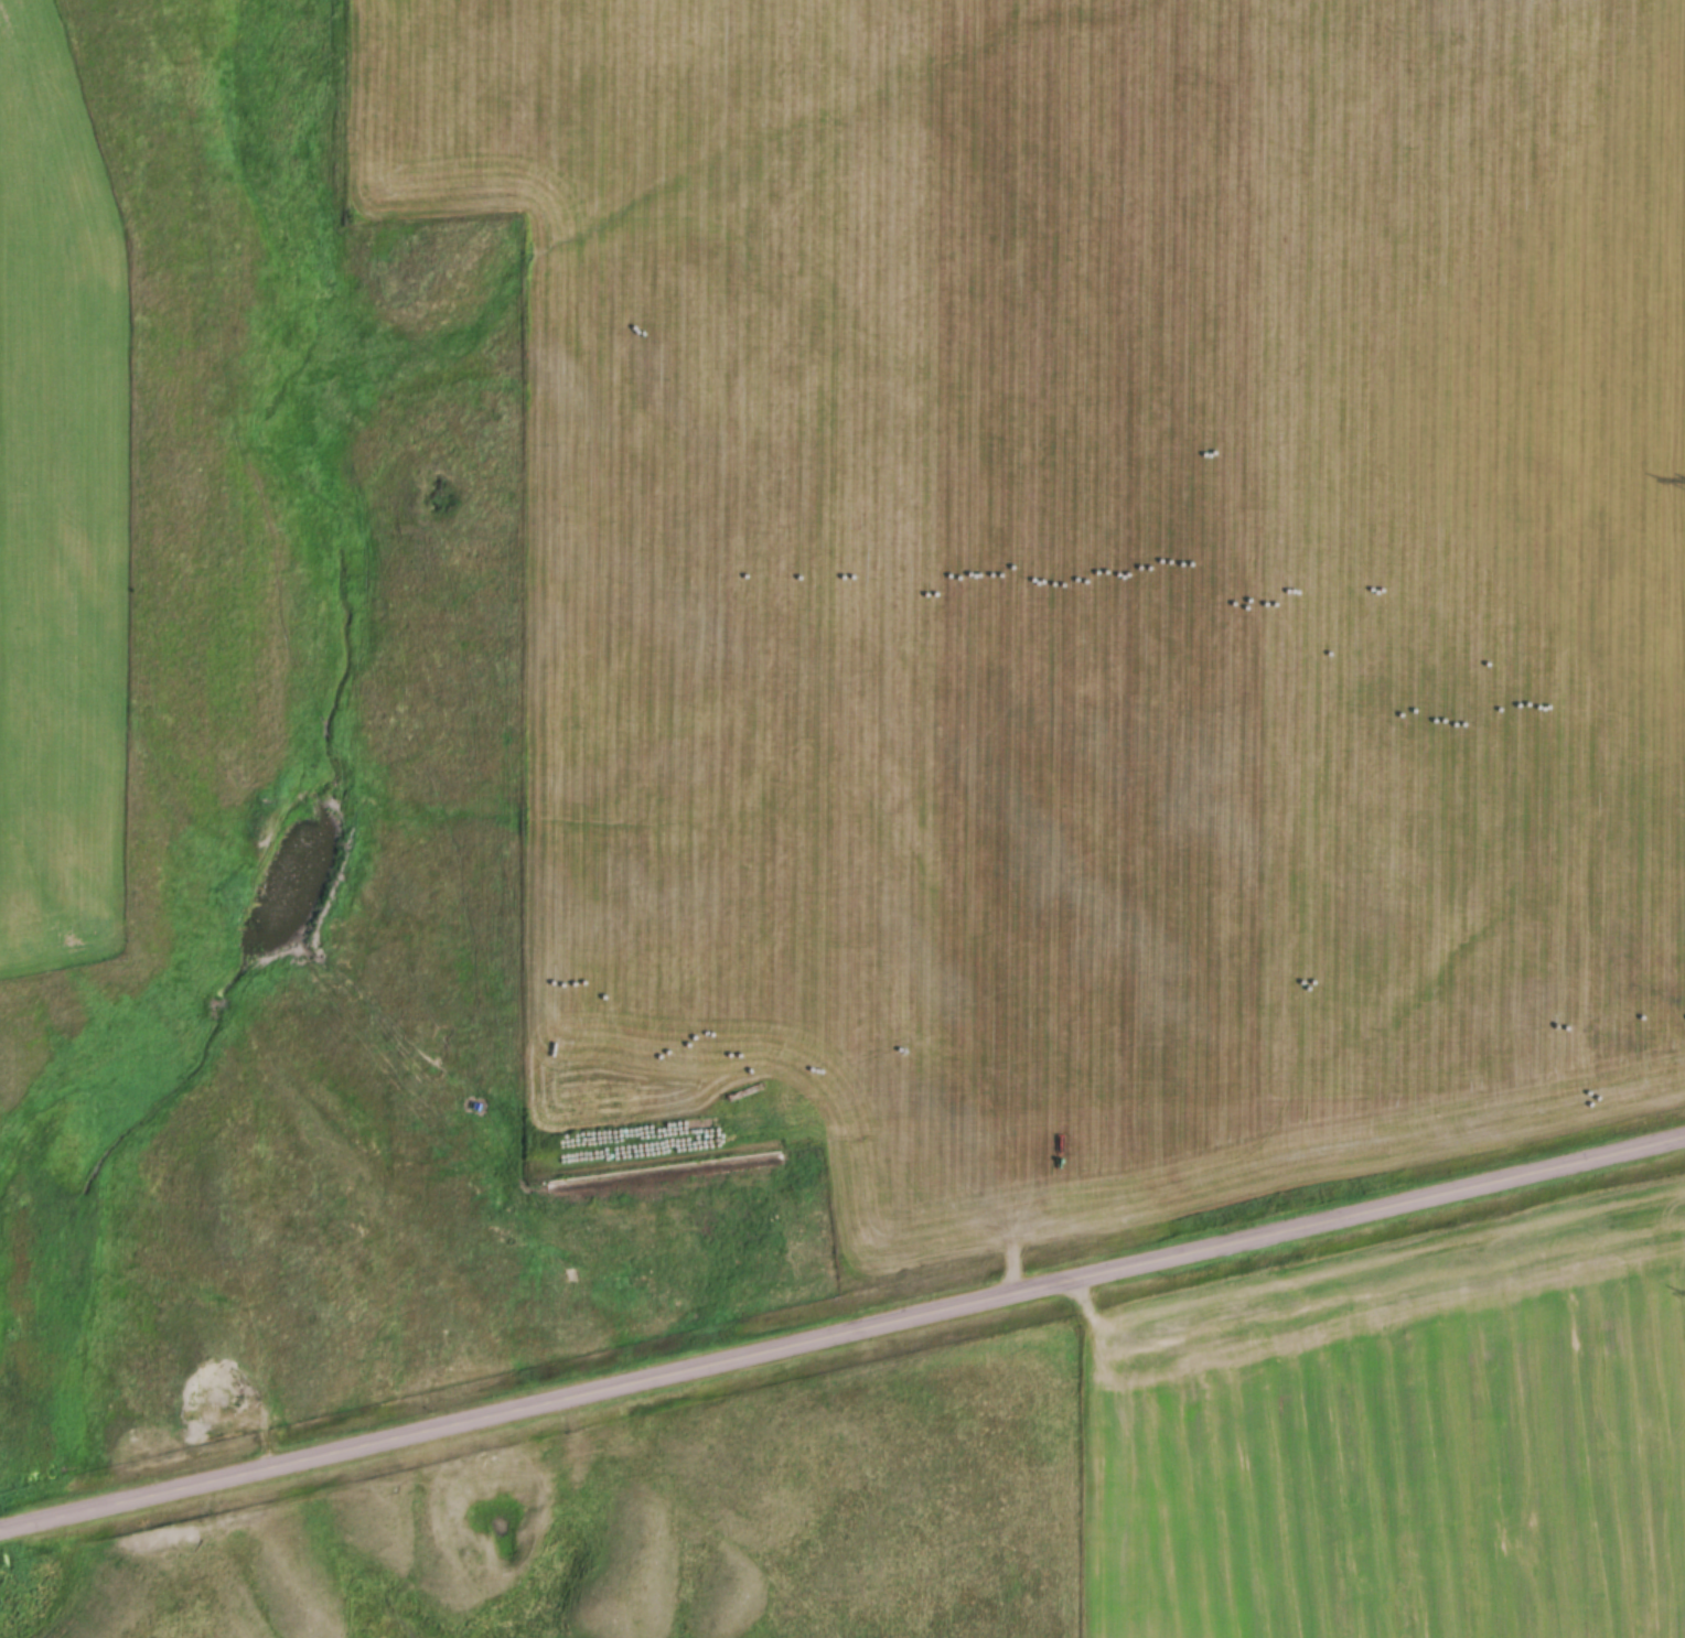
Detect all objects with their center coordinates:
road: (842, 1343)

